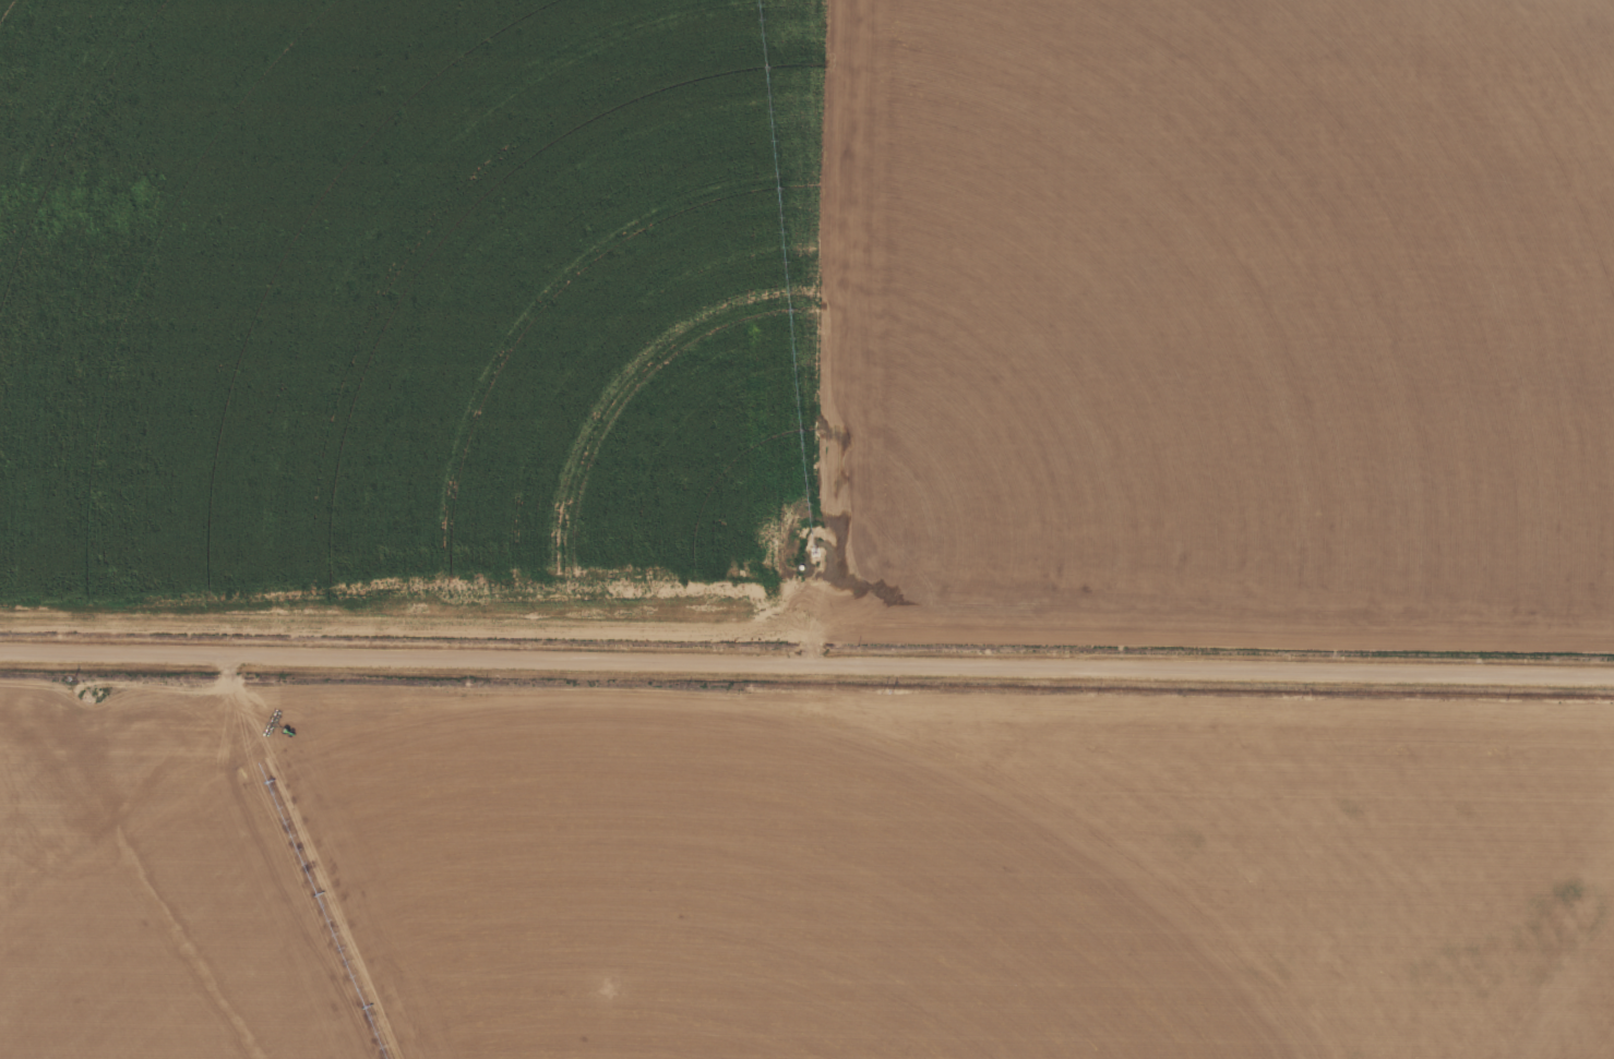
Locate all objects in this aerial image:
road: (806, 667)
crop: (800, 876)

